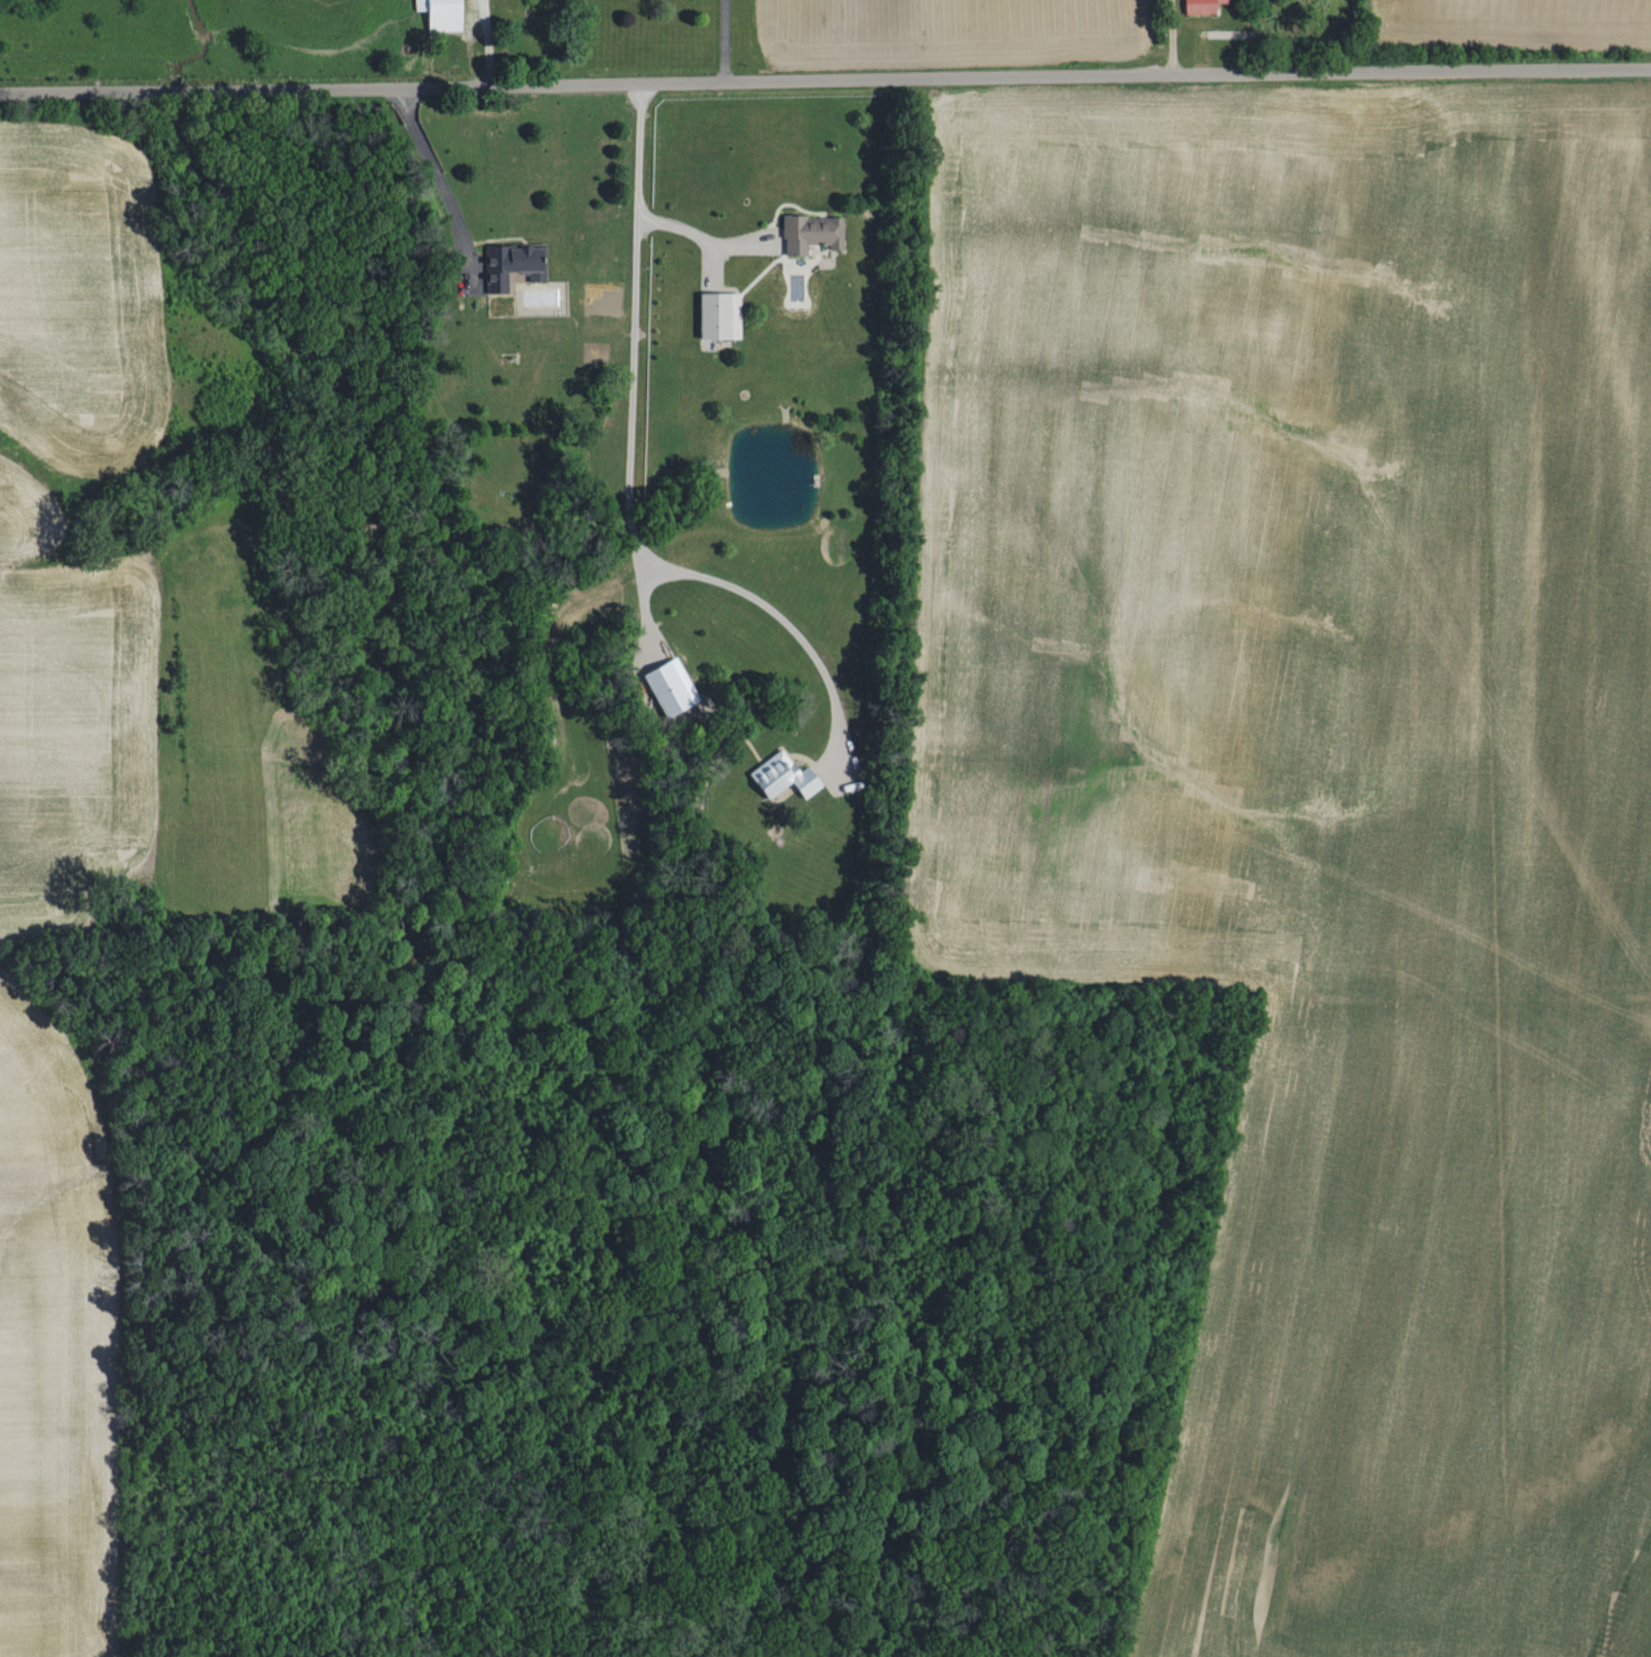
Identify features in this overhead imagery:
building: (1206, 6)
building: (444, 14)
road: (1171, 38)
road: (724, 39)
road: (485, 41)
road: (824, 78)
road: (440, 168)
building: (814, 233)
road: (698, 242)
building: (516, 263)
building: (722, 314)
road: (634, 448)
building: (674, 686)
building: (787, 776)

